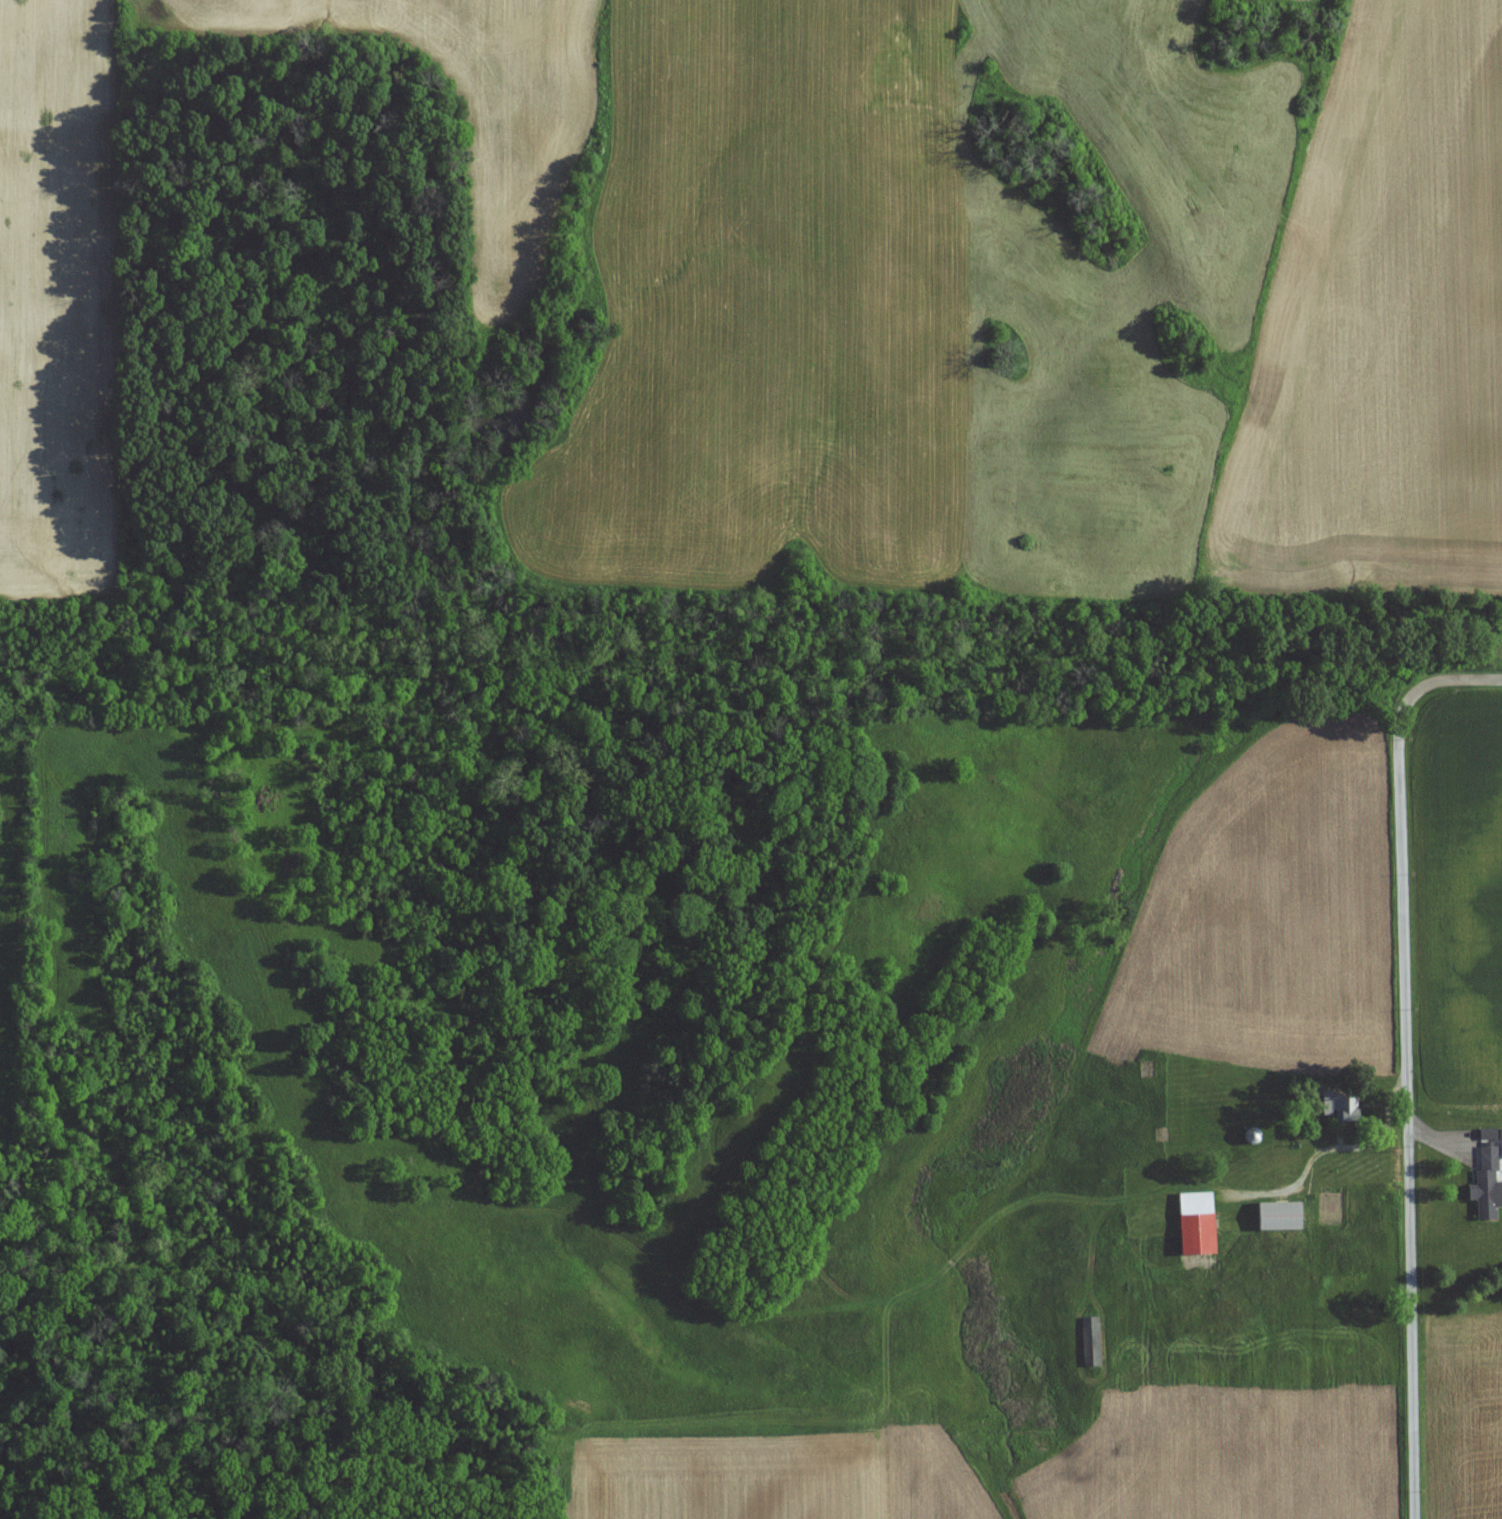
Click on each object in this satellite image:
road: (1456, 679)
road: (1404, 1103)
building: (1345, 1106)
road: (1328, 1148)
building: (1285, 1215)
building: (1203, 1223)

